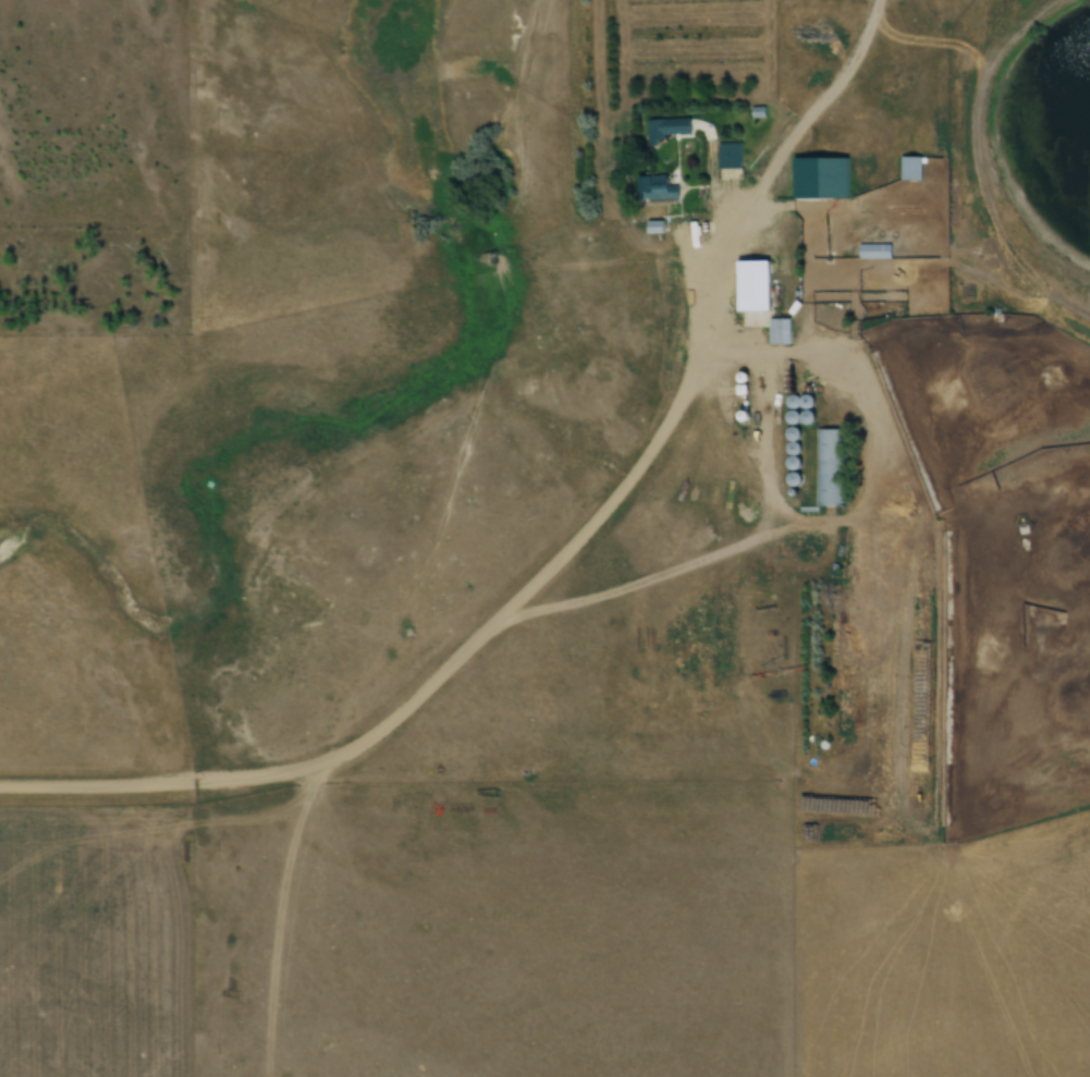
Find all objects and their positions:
dam: (977, 124)
building: (659, 128)
building: (723, 154)
building: (910, 168)
building: (828, 176)
building: (656, 187)
building: (653, 227)
building: (752, 285)
building: (779, 331)
building: (829, 466)
road: (471, 677)

